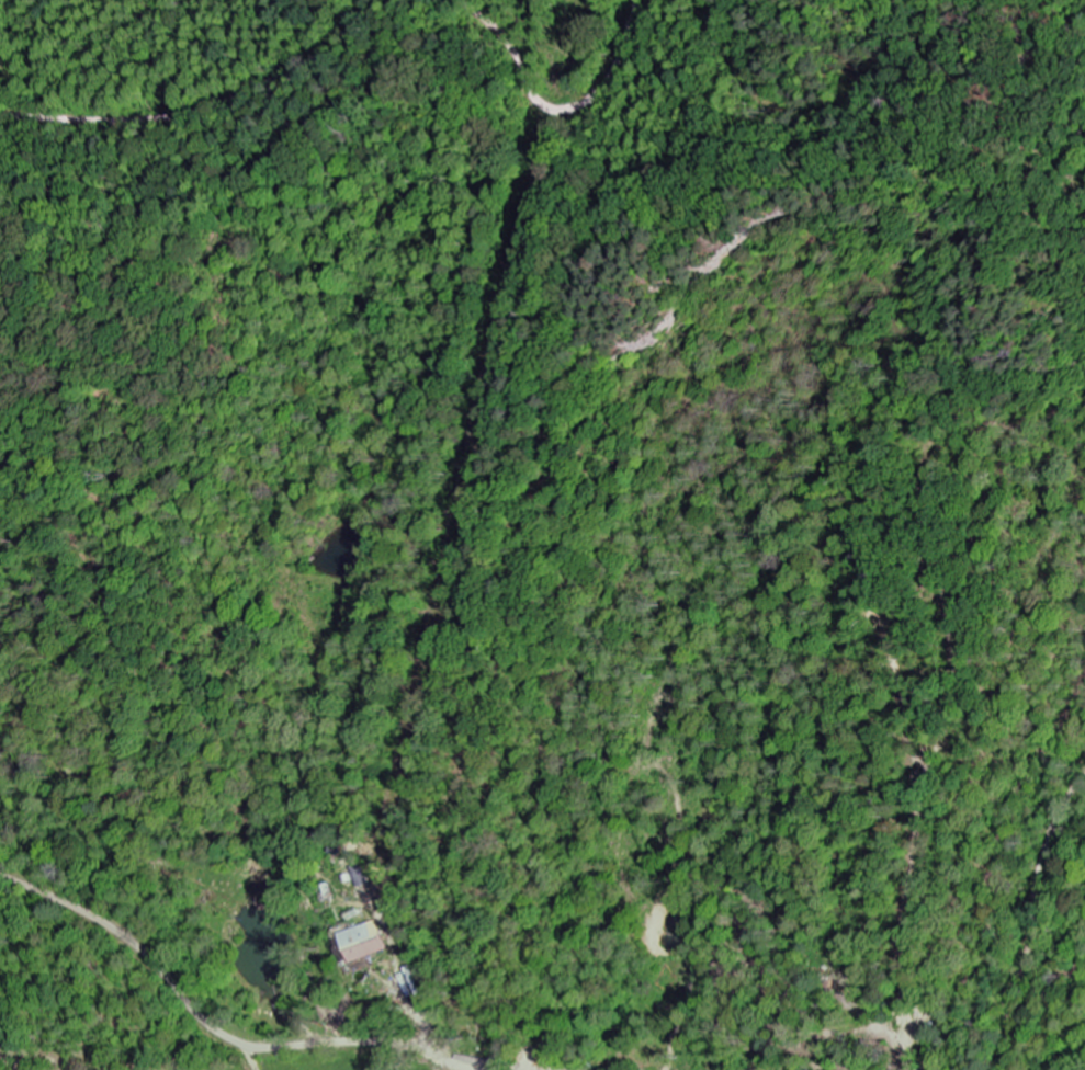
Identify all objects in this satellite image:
road: (1031, 912)
building: (365, 941)
road: (221, 1041)

